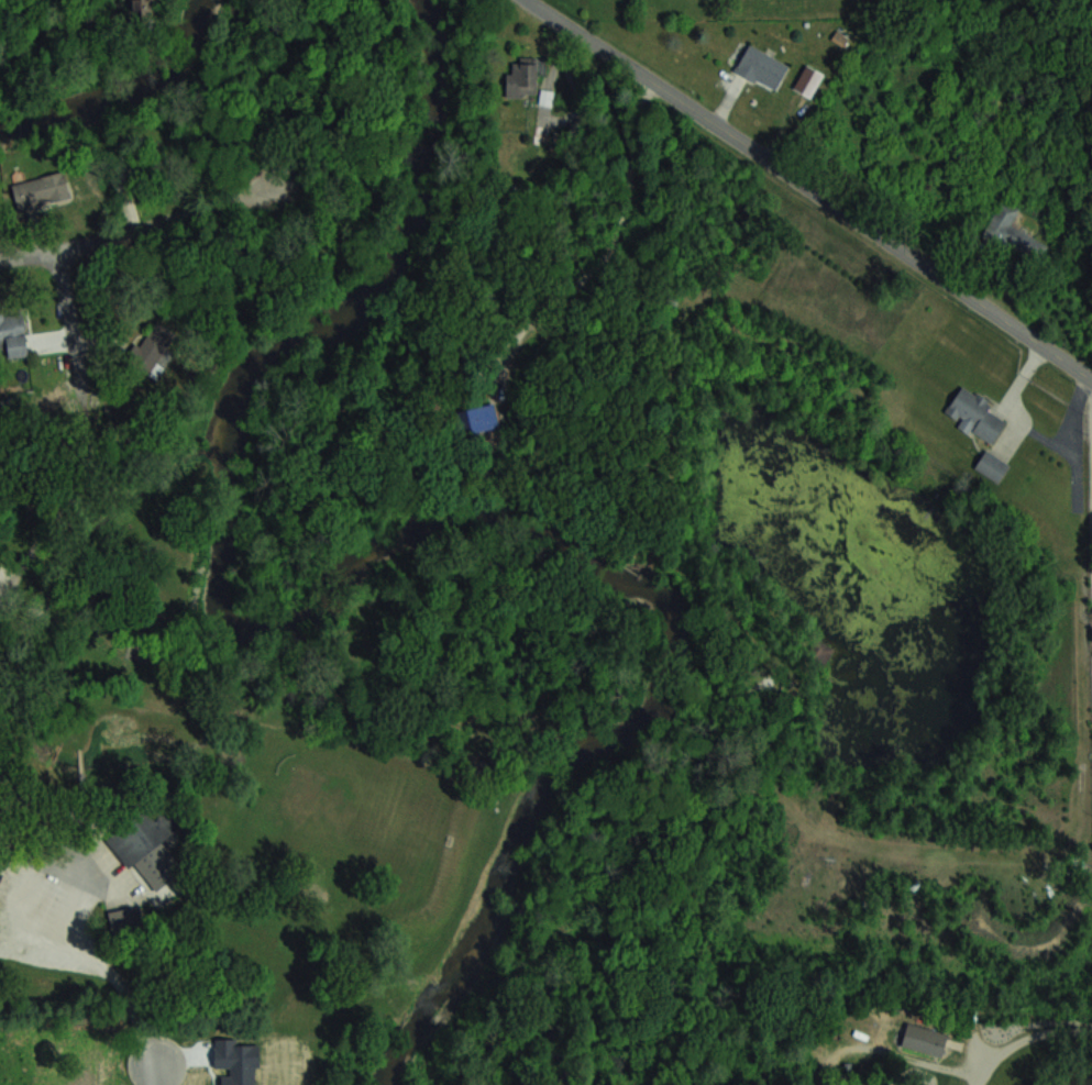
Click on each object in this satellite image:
building: (760, 67)
building: (521, 77)
building: (807, 80)
river: (119, 90)
road: (808, 190)
building: (41, 191)
building: (1014, 228)
road: (134, 230)
road: (611, 246)
road: (70, 324)
building: (13, 334)
building: (153, 348)
building: (974, 414)
building: (478, 419)
building: (991, 465)
river: (376, 555)
building: (142, 834)
building: (0, 872)
road: (99, 967)
building: (924, 1039)
road: (1027, 1041)
road: (156, 1073)

